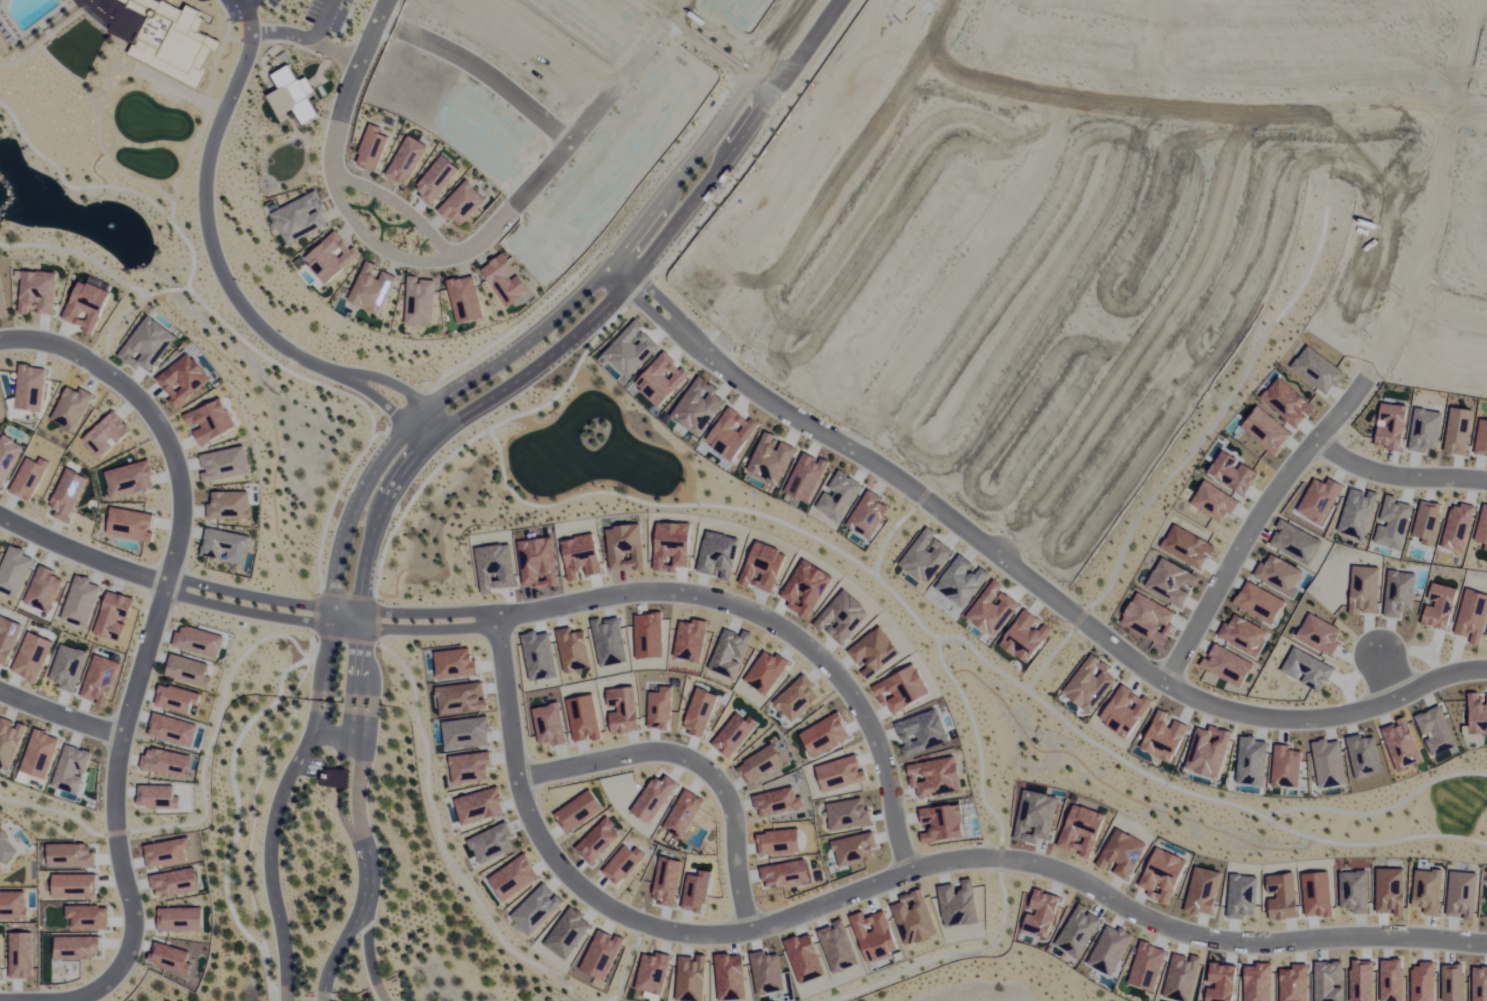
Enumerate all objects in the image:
road: (247, 2)
road: (681, 7)
road: (246, 16)
road: (322, 21)
road: (775, 37)
road: (306, 40)
road: (808, 45)
road: (713, 46)
road: (483, 68)
building: (293, 96)
building: (373, 148)
building: (407, 160)
building: (437, 179)
road: (403, 200)
building: (463, 203)
building: (300, 217)
road: (213, 236)
road: (449, 250)
building: (331, 257)
road: (606, 261)
building: (505, 280)
building: (372, 289)
building: (38, 291)
road: (617, 293)
building: (466, 300)
building: (2, 301)
building: (420, 302)
road: (390, 382)
building: (30, 387)
building: (72, 407)
road: (387, 408)
road: (154, 409)
road: (430, 416)
building: (107, 433)
building: (7, 456)
building: (224, 463)
road: (1400, 473)
building: (29, 477)
building: (129, 478)
building: (68, 493)
road: (357, 496)
building: (229, 504)
building: (130, 523)
road: (1258, 527)
road: (79, 544)
building: (226, 544)
building: (14, 571)
road: (1020, 572)
building: (43, 588)
road: (245, 594)
building: (82, 601)
road: (412, 611)
building: (114, 615)
road: (326, 624)
building: (7, 637)
building: (199, 640)
building: (32, 656)
building: (68, 666)
building: (188, 670)
building: (101, 679)
road: (1395, 679)
building: (177, 697)
road: (61, 707)
road: (360, 723)
road: (336, 725)
building: (173, 729)
building: (10, 740)
building: (40, 753)
building: (166, 761)
road: (696, 762)
building: (72, 768)
building: (336, 777)
road: (280, 801)
road: (121, 837)
building: (6, 849)
building: (167, 852)
road: (919, 861)
building: (176, 882)
road: (611, 901)
building: (13, 904)
building: (89, 916)
building: (77, 947)
building: (22, 954)
road: (372, 955)
building: (0, 958)
building: (171, 958)

